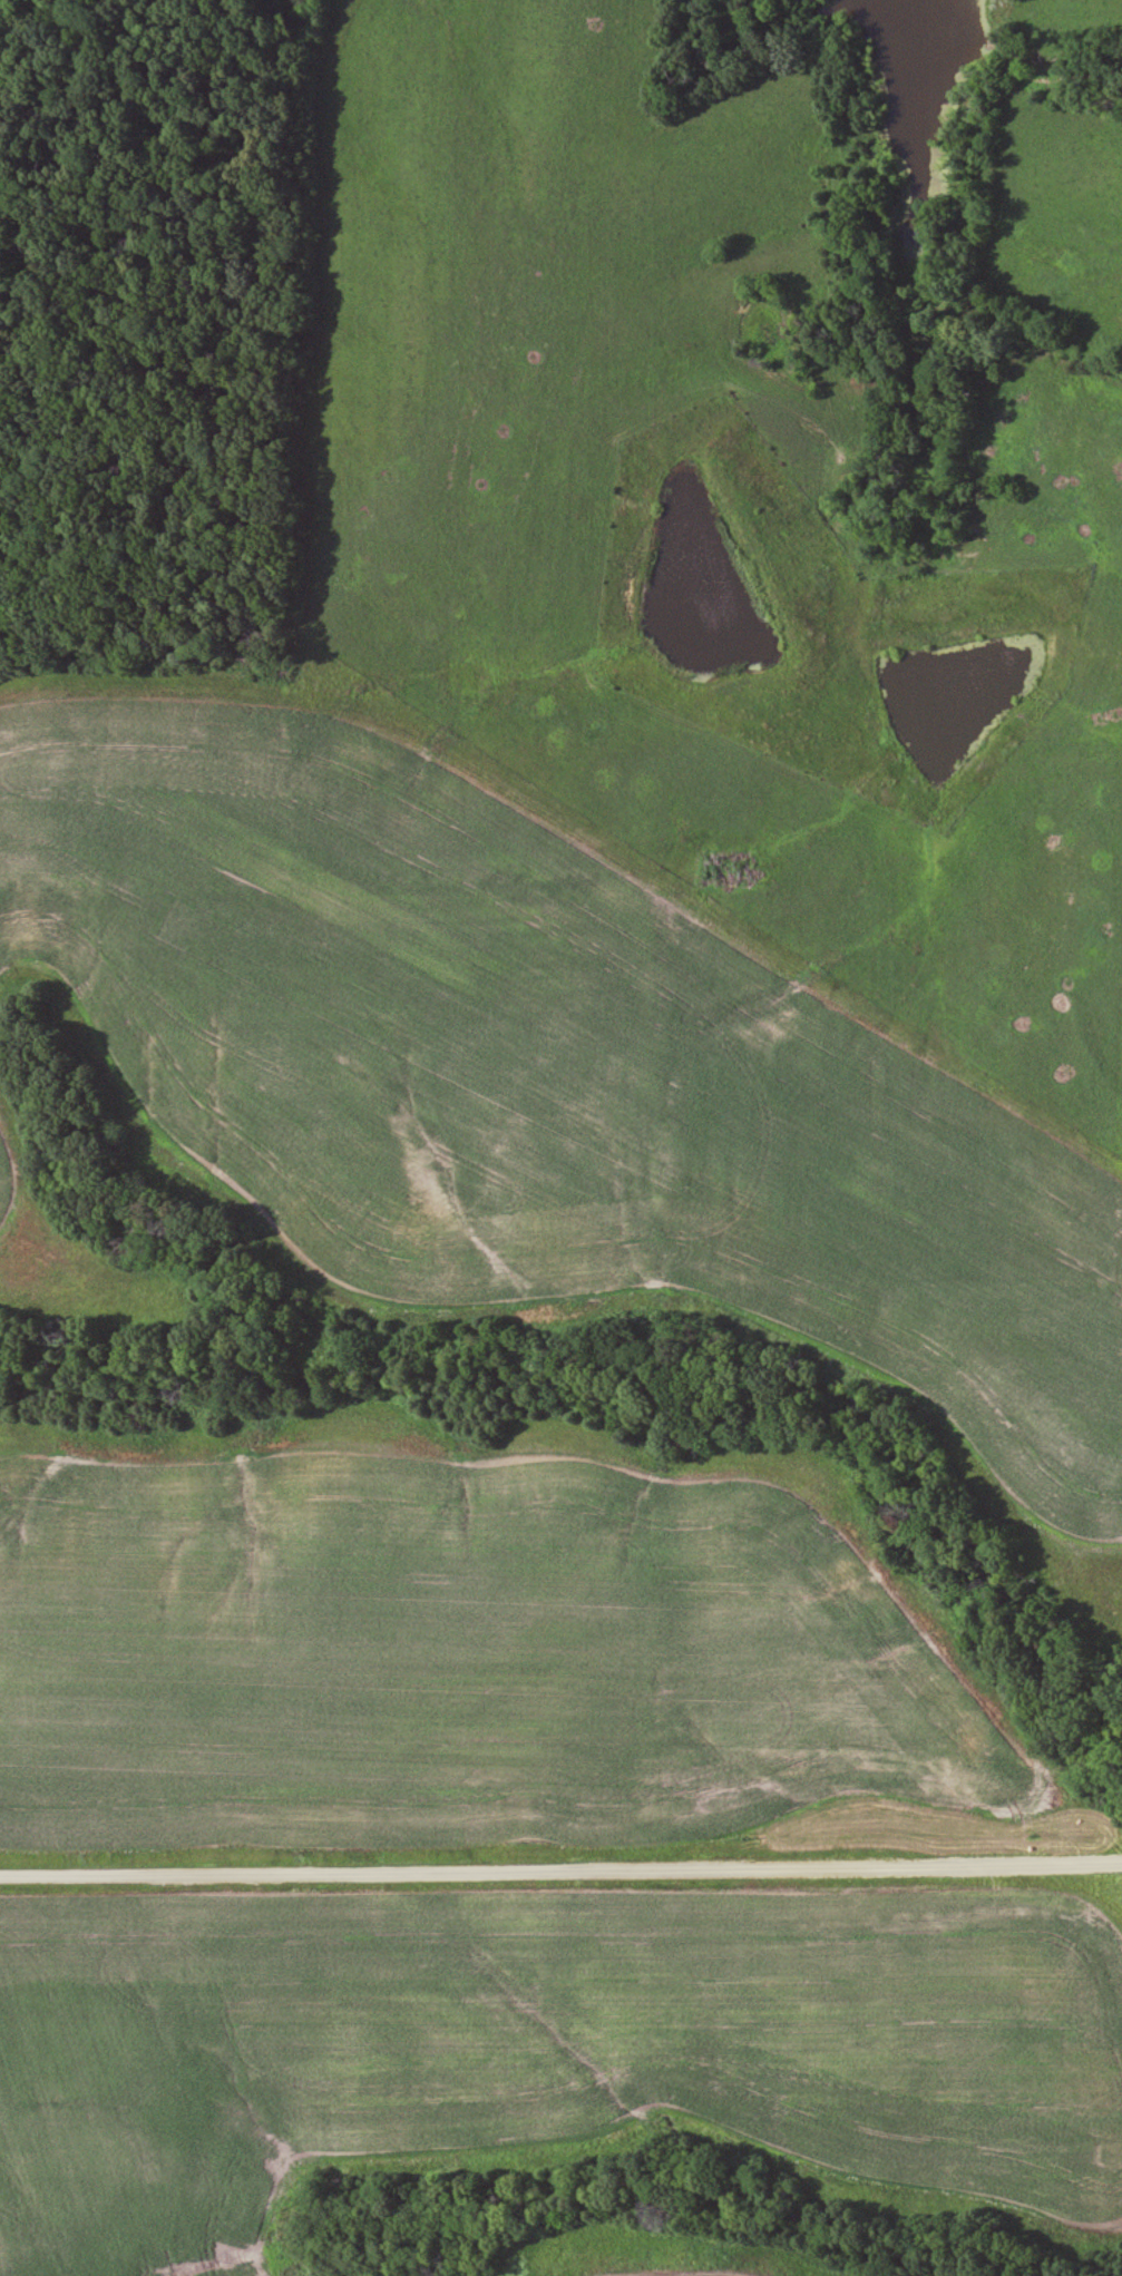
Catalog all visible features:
road: (560, 1876)

